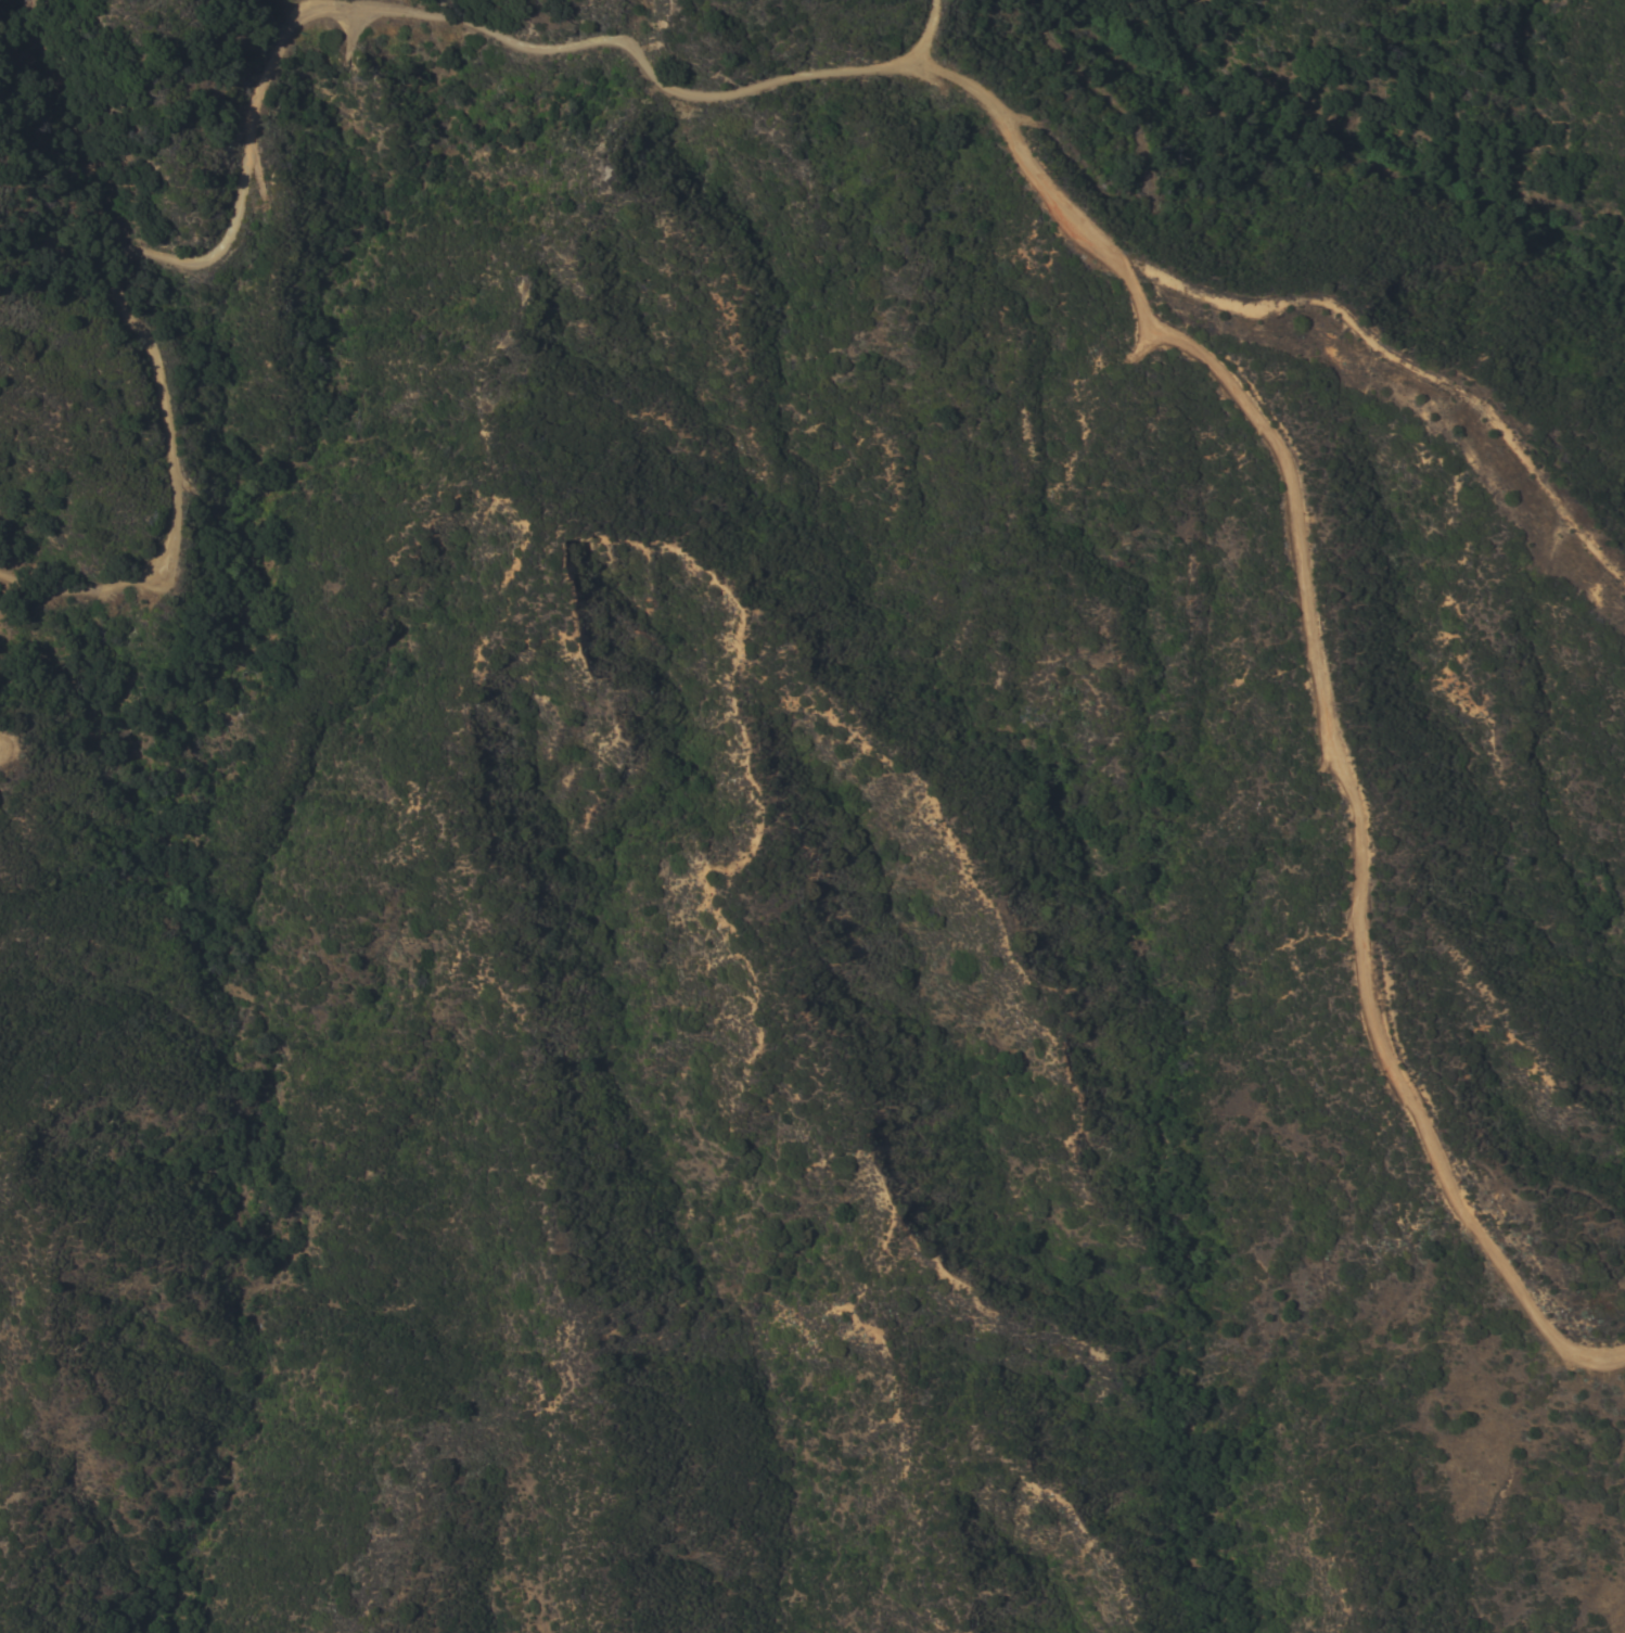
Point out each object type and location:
road: (929, 31)
road: (255, 106)
road: (1409, 350)
road: (1316, 682)

